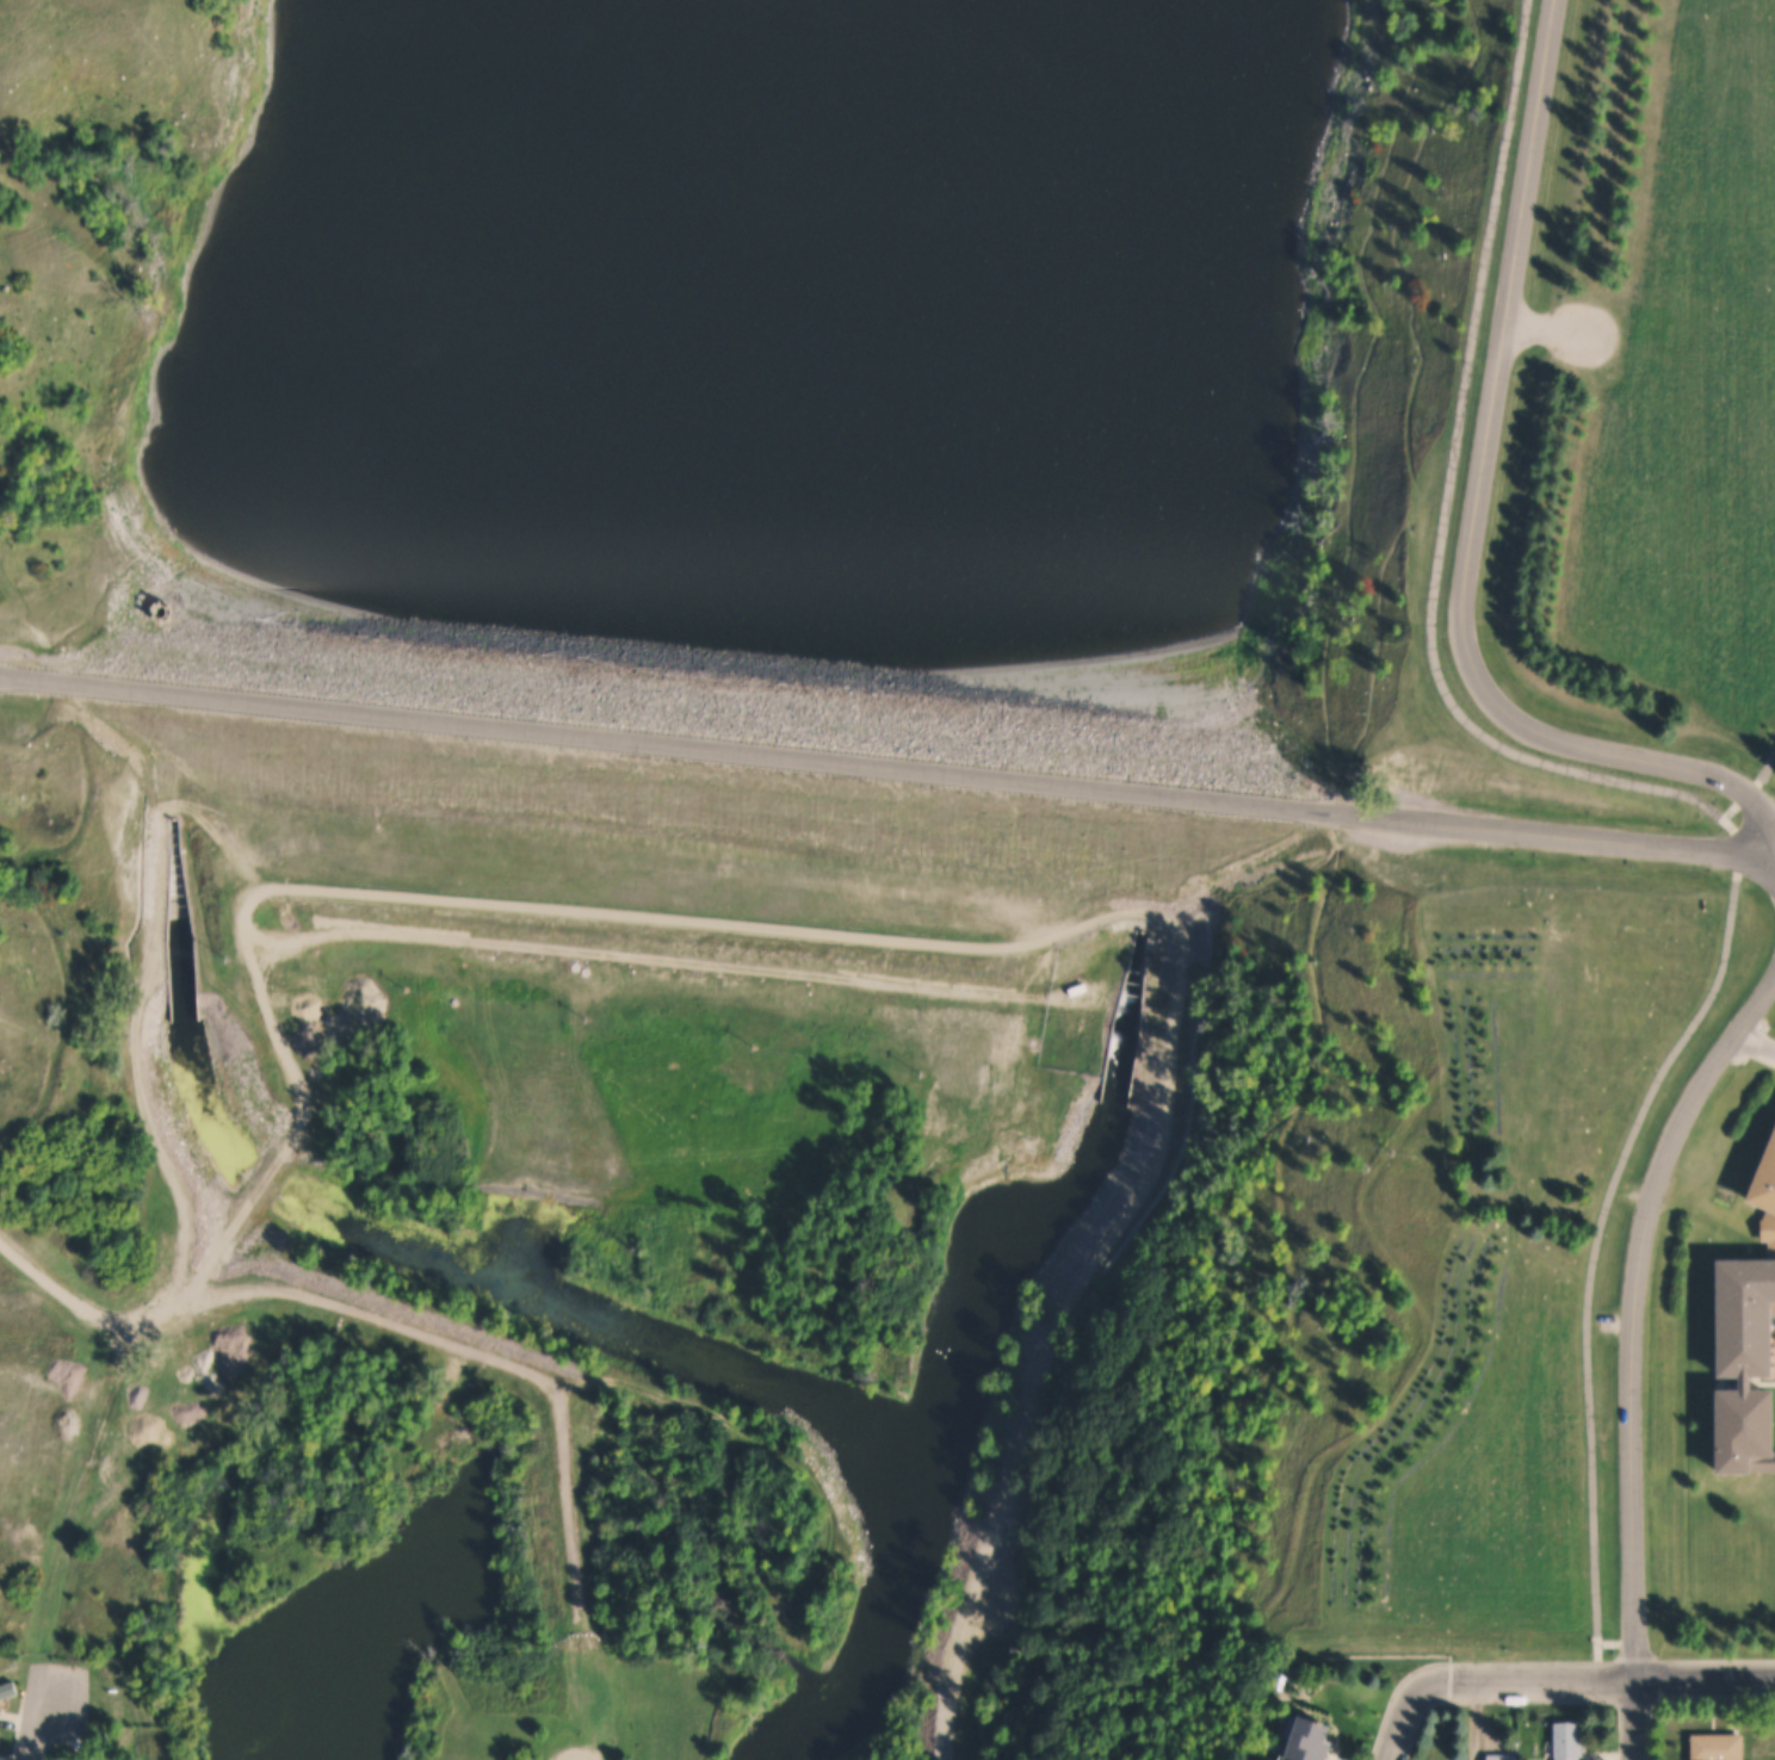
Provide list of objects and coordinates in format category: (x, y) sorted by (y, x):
river: (390, 298)
road: (1546, 324)
river: (939, 335)
road: (1478, 506)
river: (159, 708)
park: (1763, 748)
road: (887, 762)
road: (1752, 787)
road: (1669, 791)
river: (1103, 802)
road: (965, 959)
river: (173, 998)
road: (1755, 1046)
building: (1765, 1178)
river: (255, 1183)
building: (1769, 1229)
road: (104, 1318)
river: (595, 1319)
road: (1634, 1352)
river: (957, 1353)
building: (1746, 1363)
road: (681, 1406)
road: (577, 1562)
river: (371, 1612)
road: (1618, 1644)
road: (1598, 1680)
building: (10, 1690)
building: (0, 1705)
road: (1474, 1719)
road: (1402, 1721)
road: (42, 1728)
building: (2, 1739)
building: (1312, 1740)
building: (1571, 1741)
building: (1723, 1747)
road: (574, 1750)
building: (1504, 1756)

